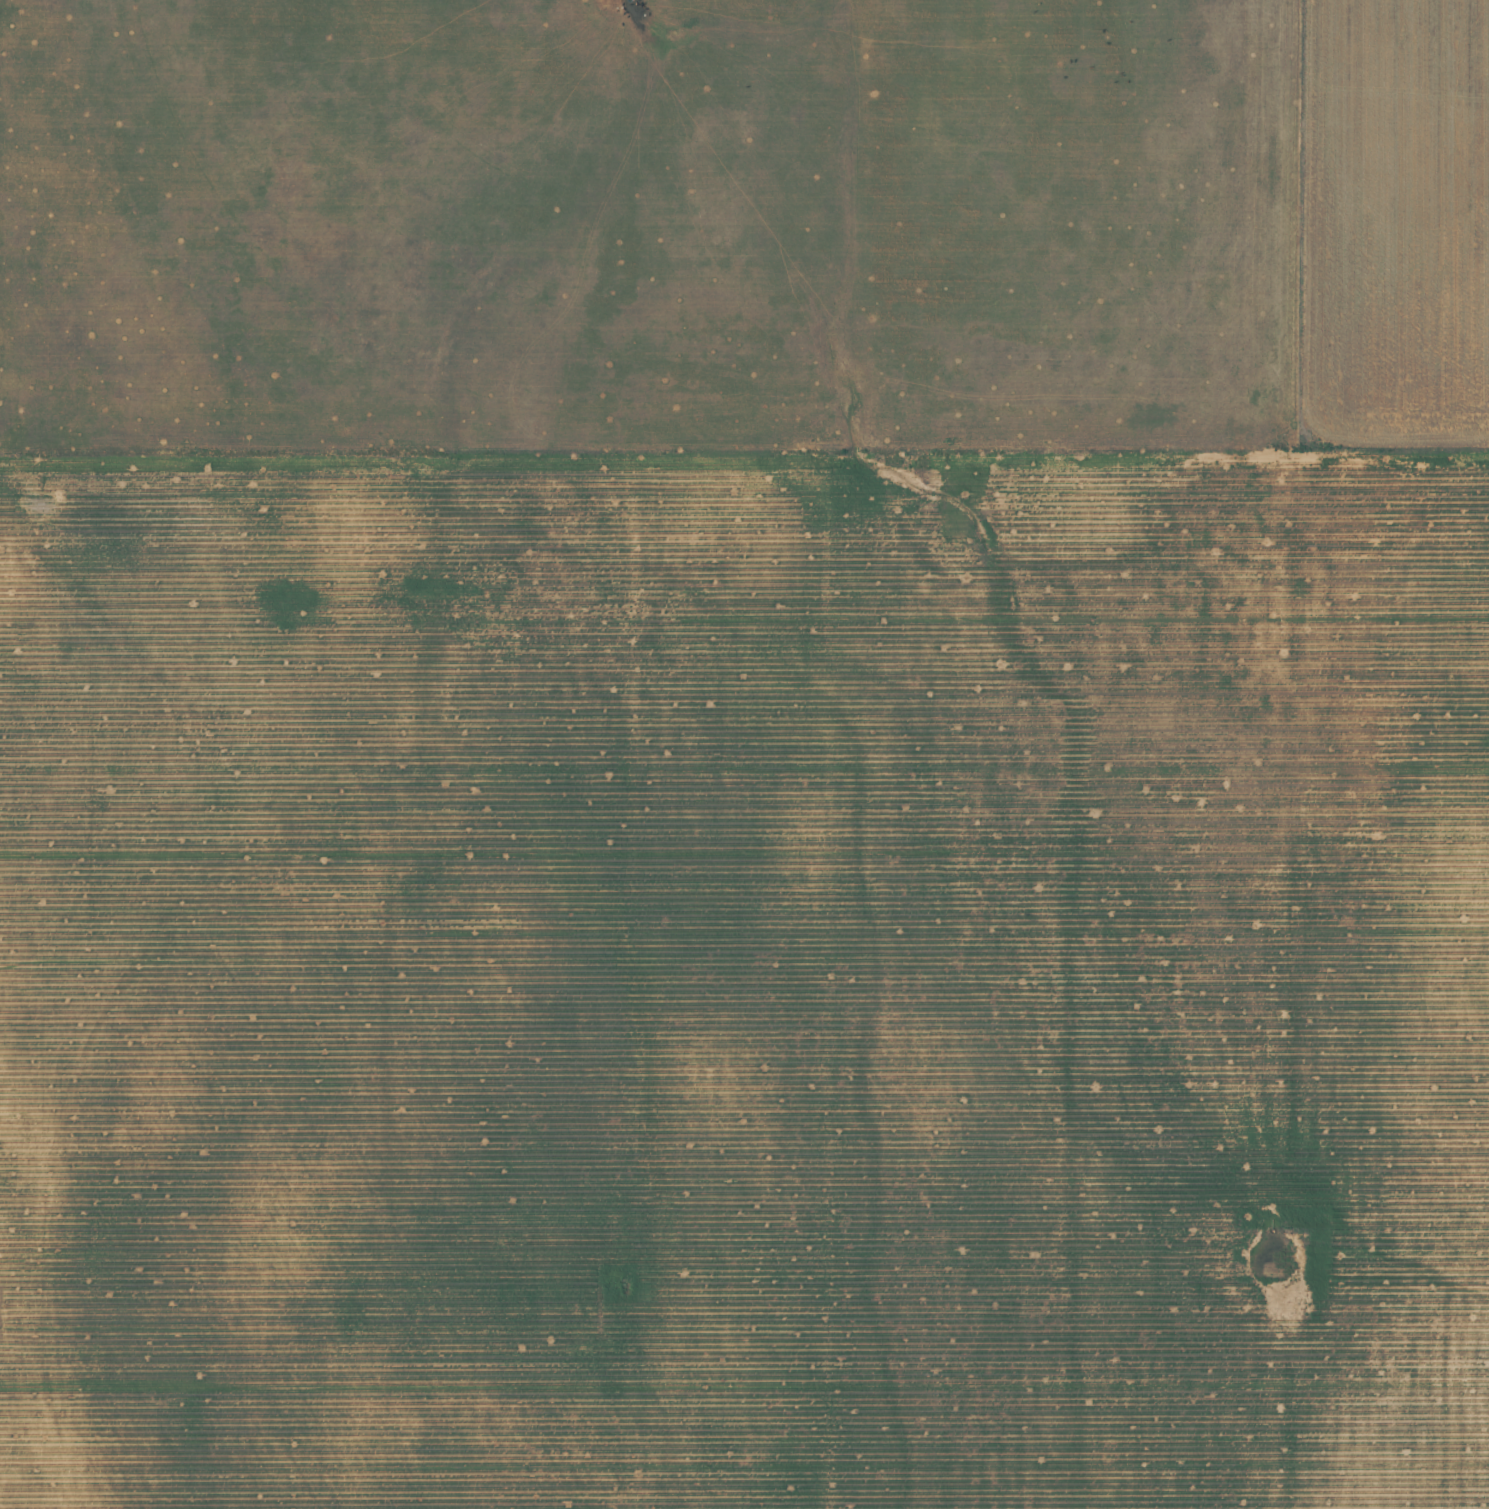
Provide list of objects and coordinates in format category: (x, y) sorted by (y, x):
road: (1290, 328)

